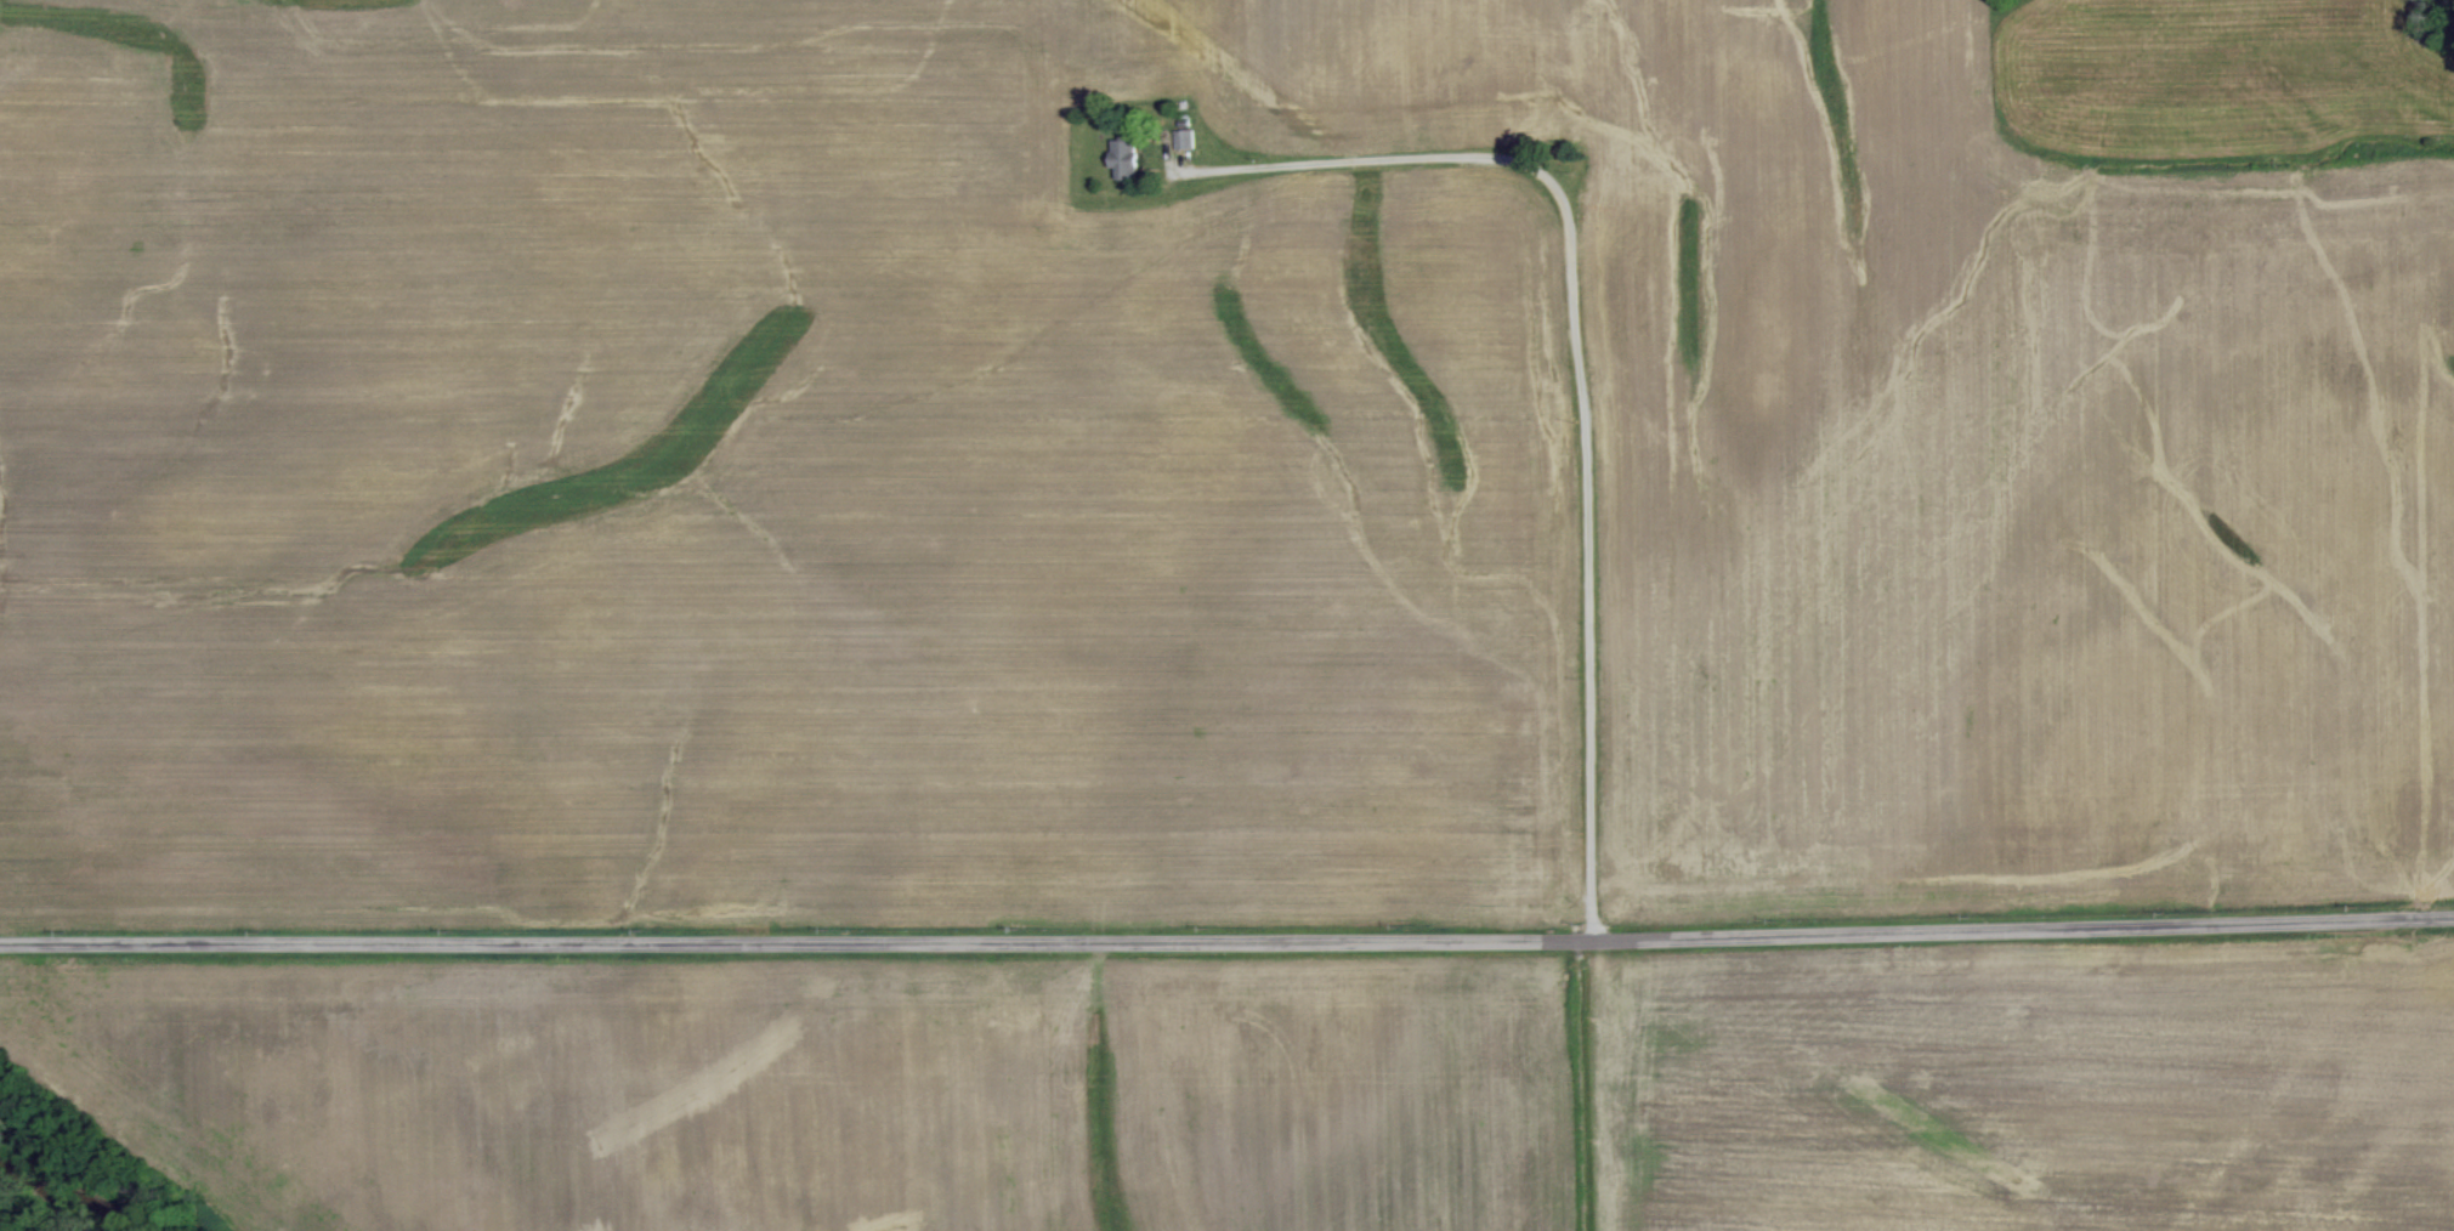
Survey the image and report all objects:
building: (1185, 140)
building: (1126, 159)
road: (1585, 370)
road: (1226, 937)

